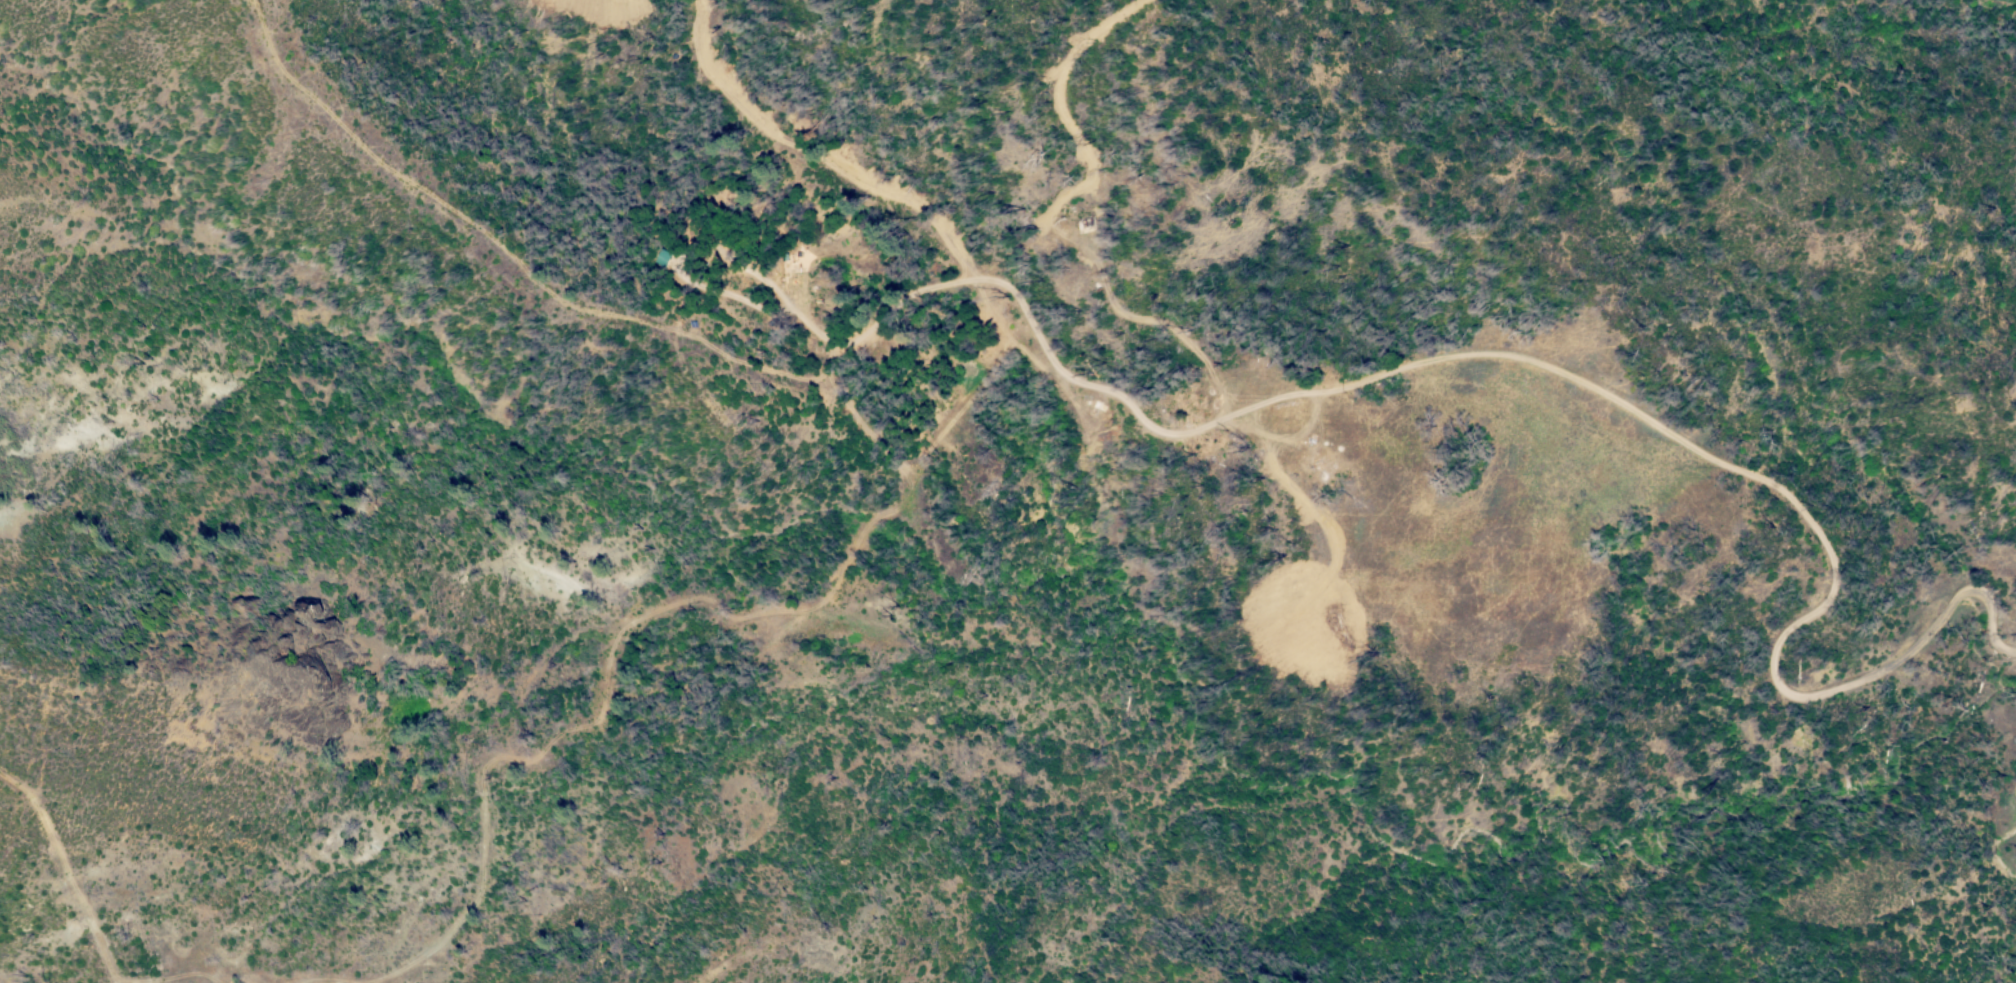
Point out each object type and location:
road: (438, 199)
road: (852, 345)
road: (1418, 360)
road: (92, 691)
road: (69, 867)
road: (7, 974)

